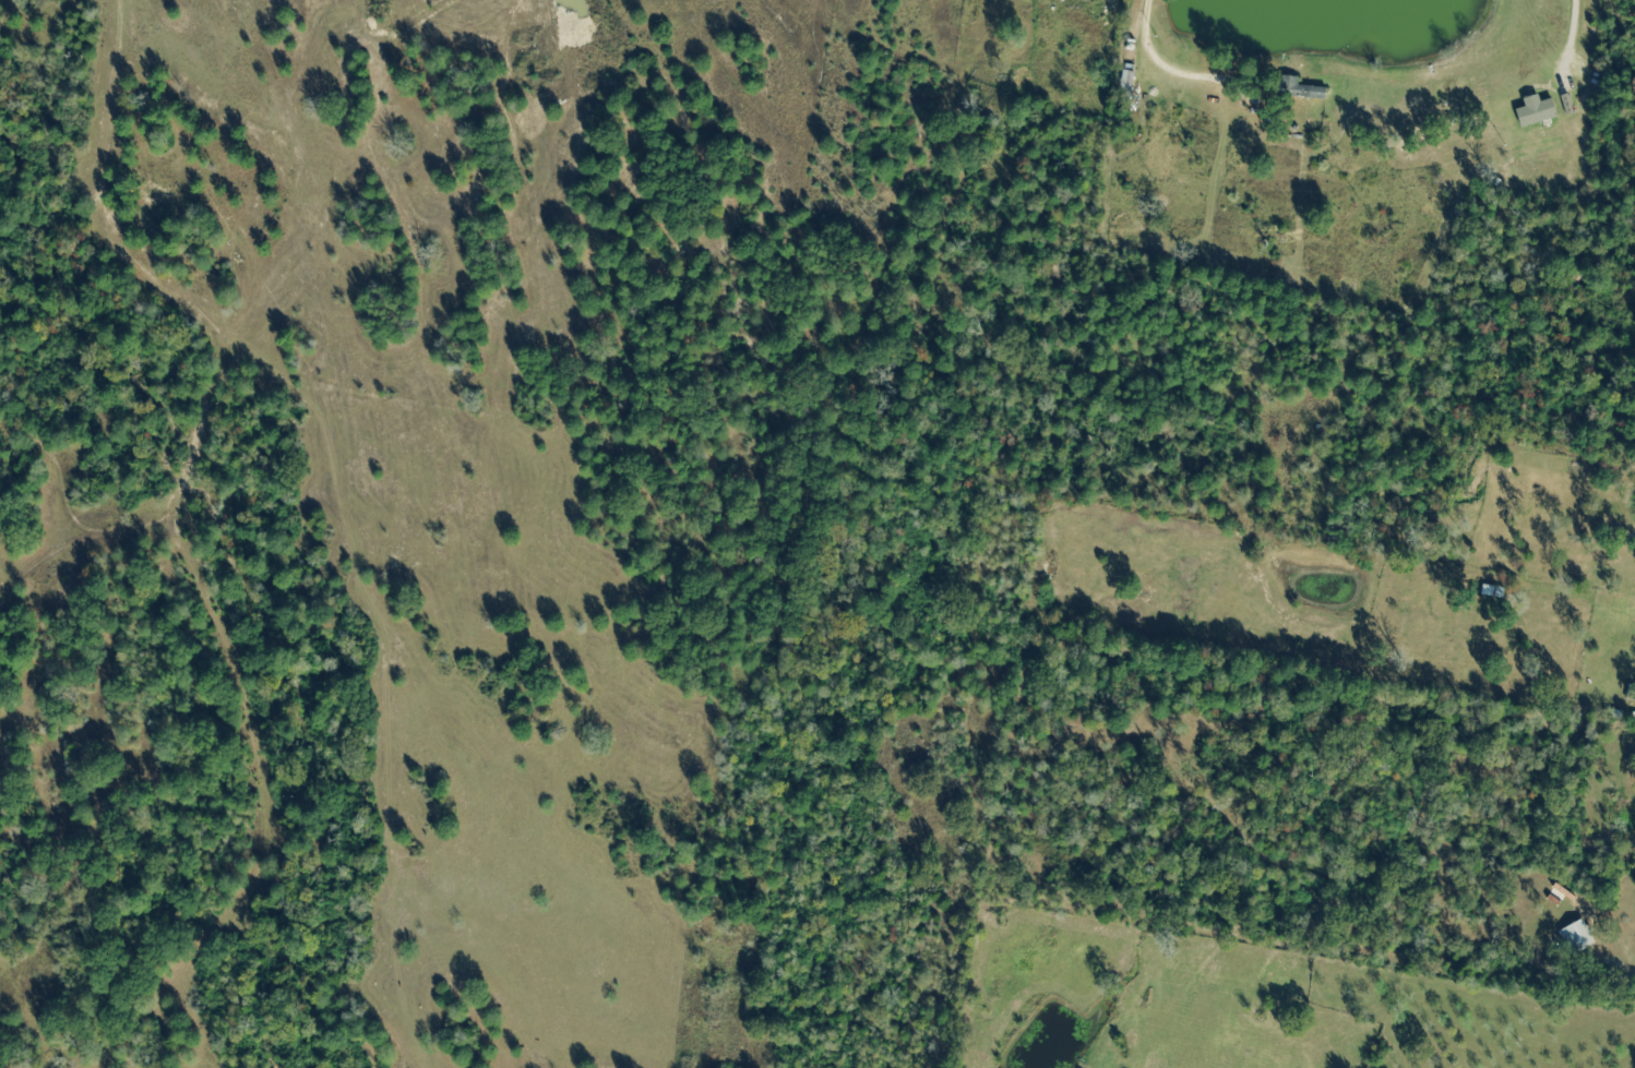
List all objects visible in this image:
road: (1573, 22)
road: (1168, 62)
building: (1308, 91)
road: (1575, 97)
building: (1539, 113)
building: (1580, 940)

